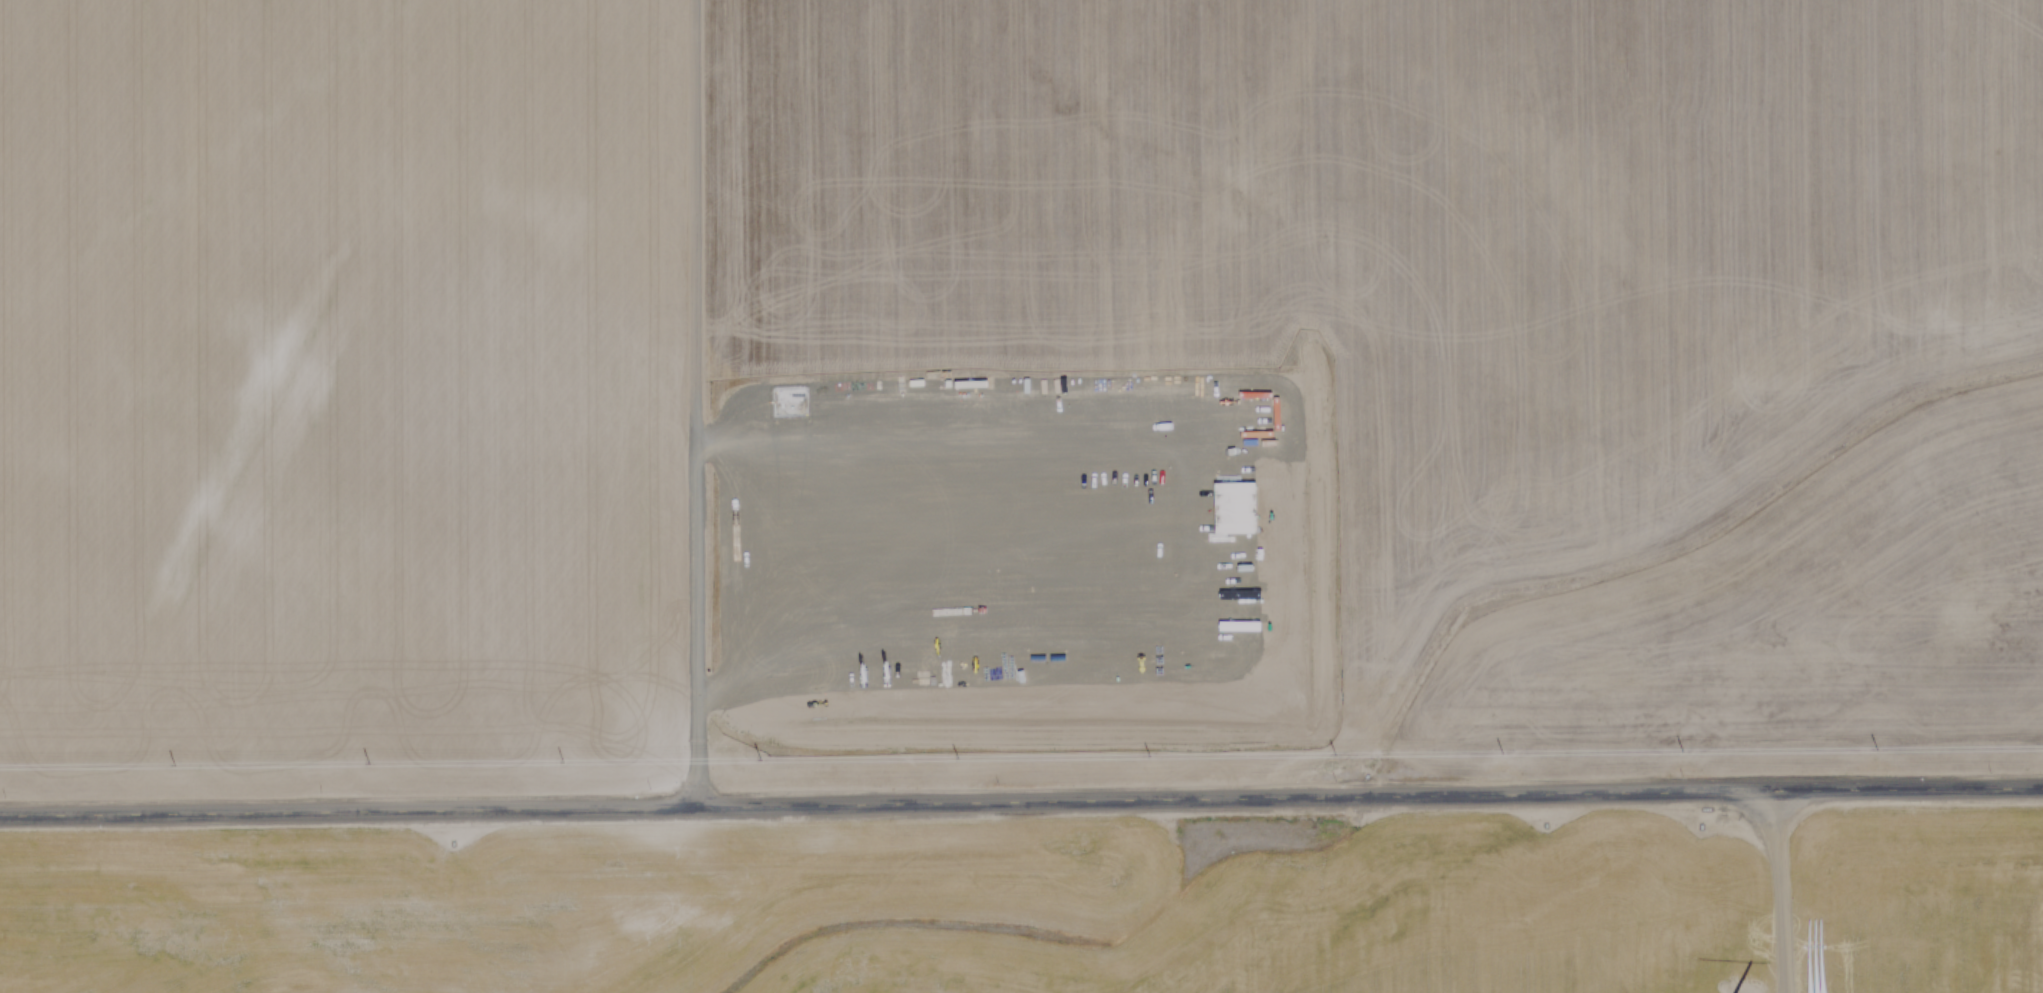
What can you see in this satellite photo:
road: (694, 400)
building: (1234, 507)
road: (1021, 795)
road: (1780, 886)

